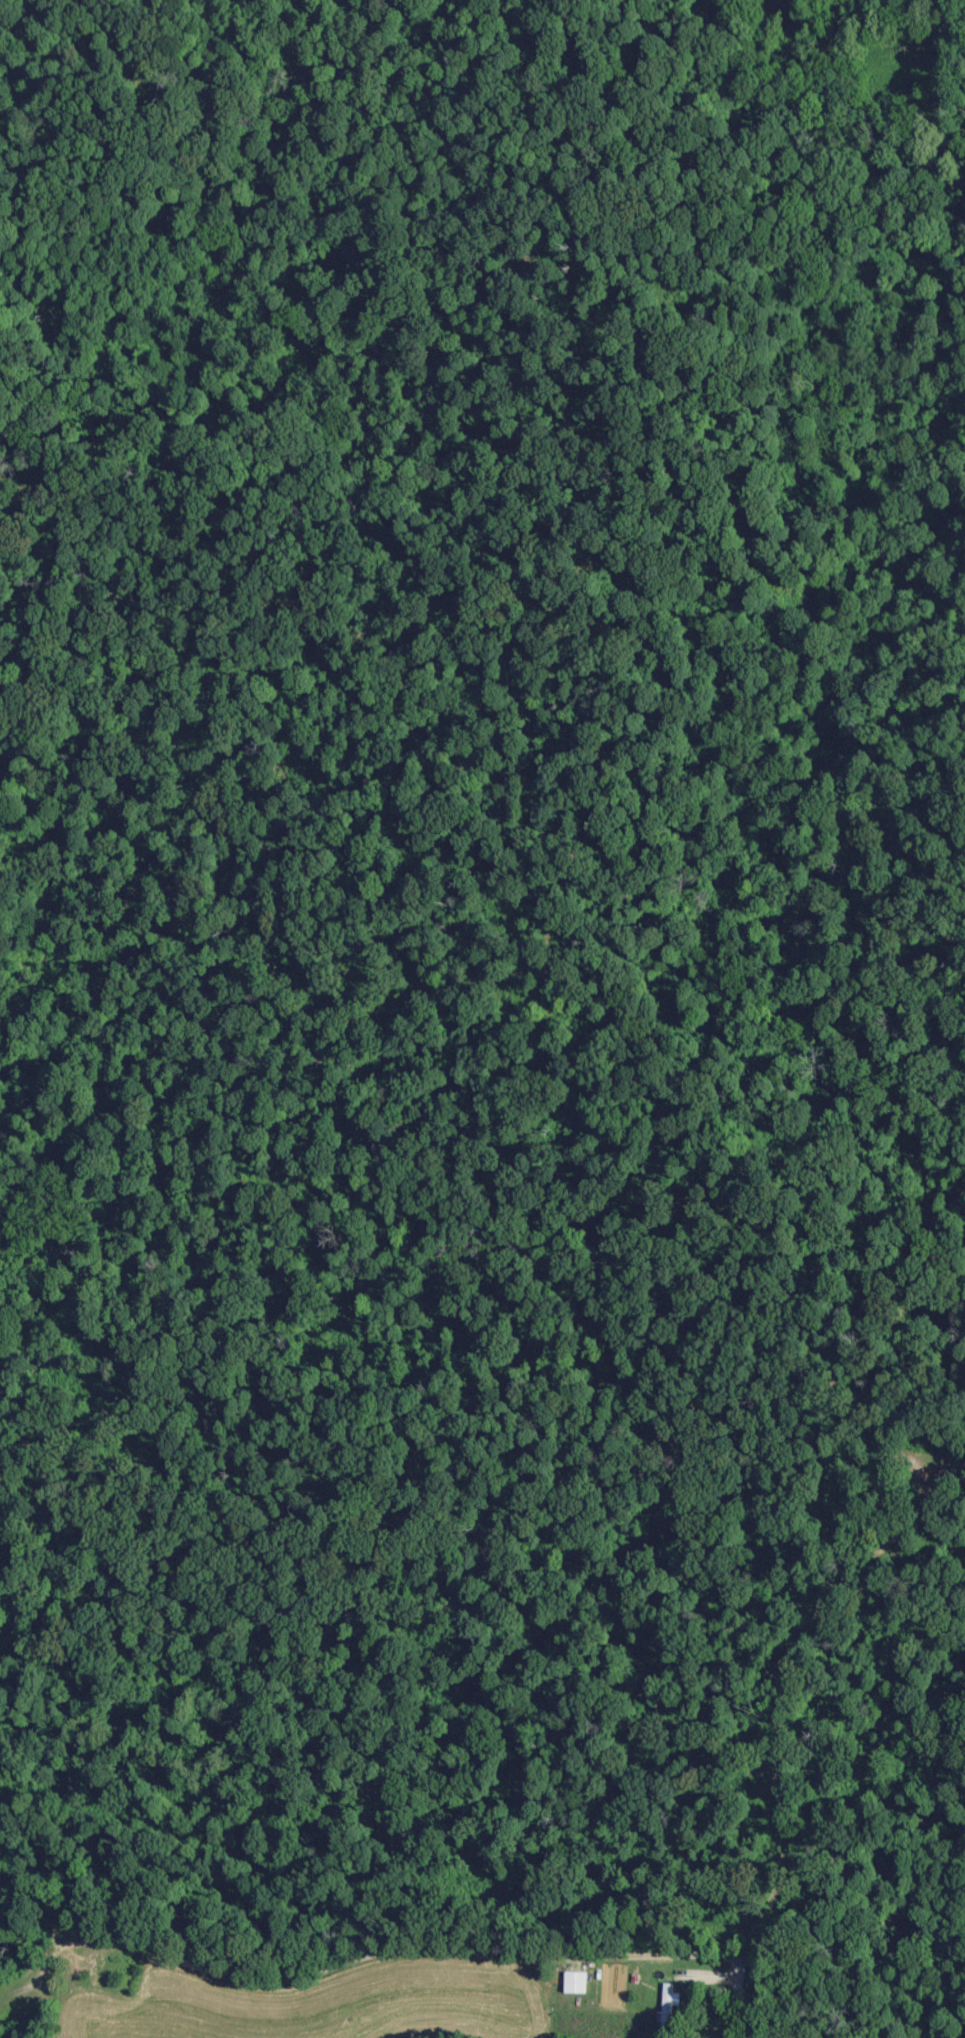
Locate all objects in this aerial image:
road: (701, 1954)
building: (575, 1980)
building: (666, 2004)

